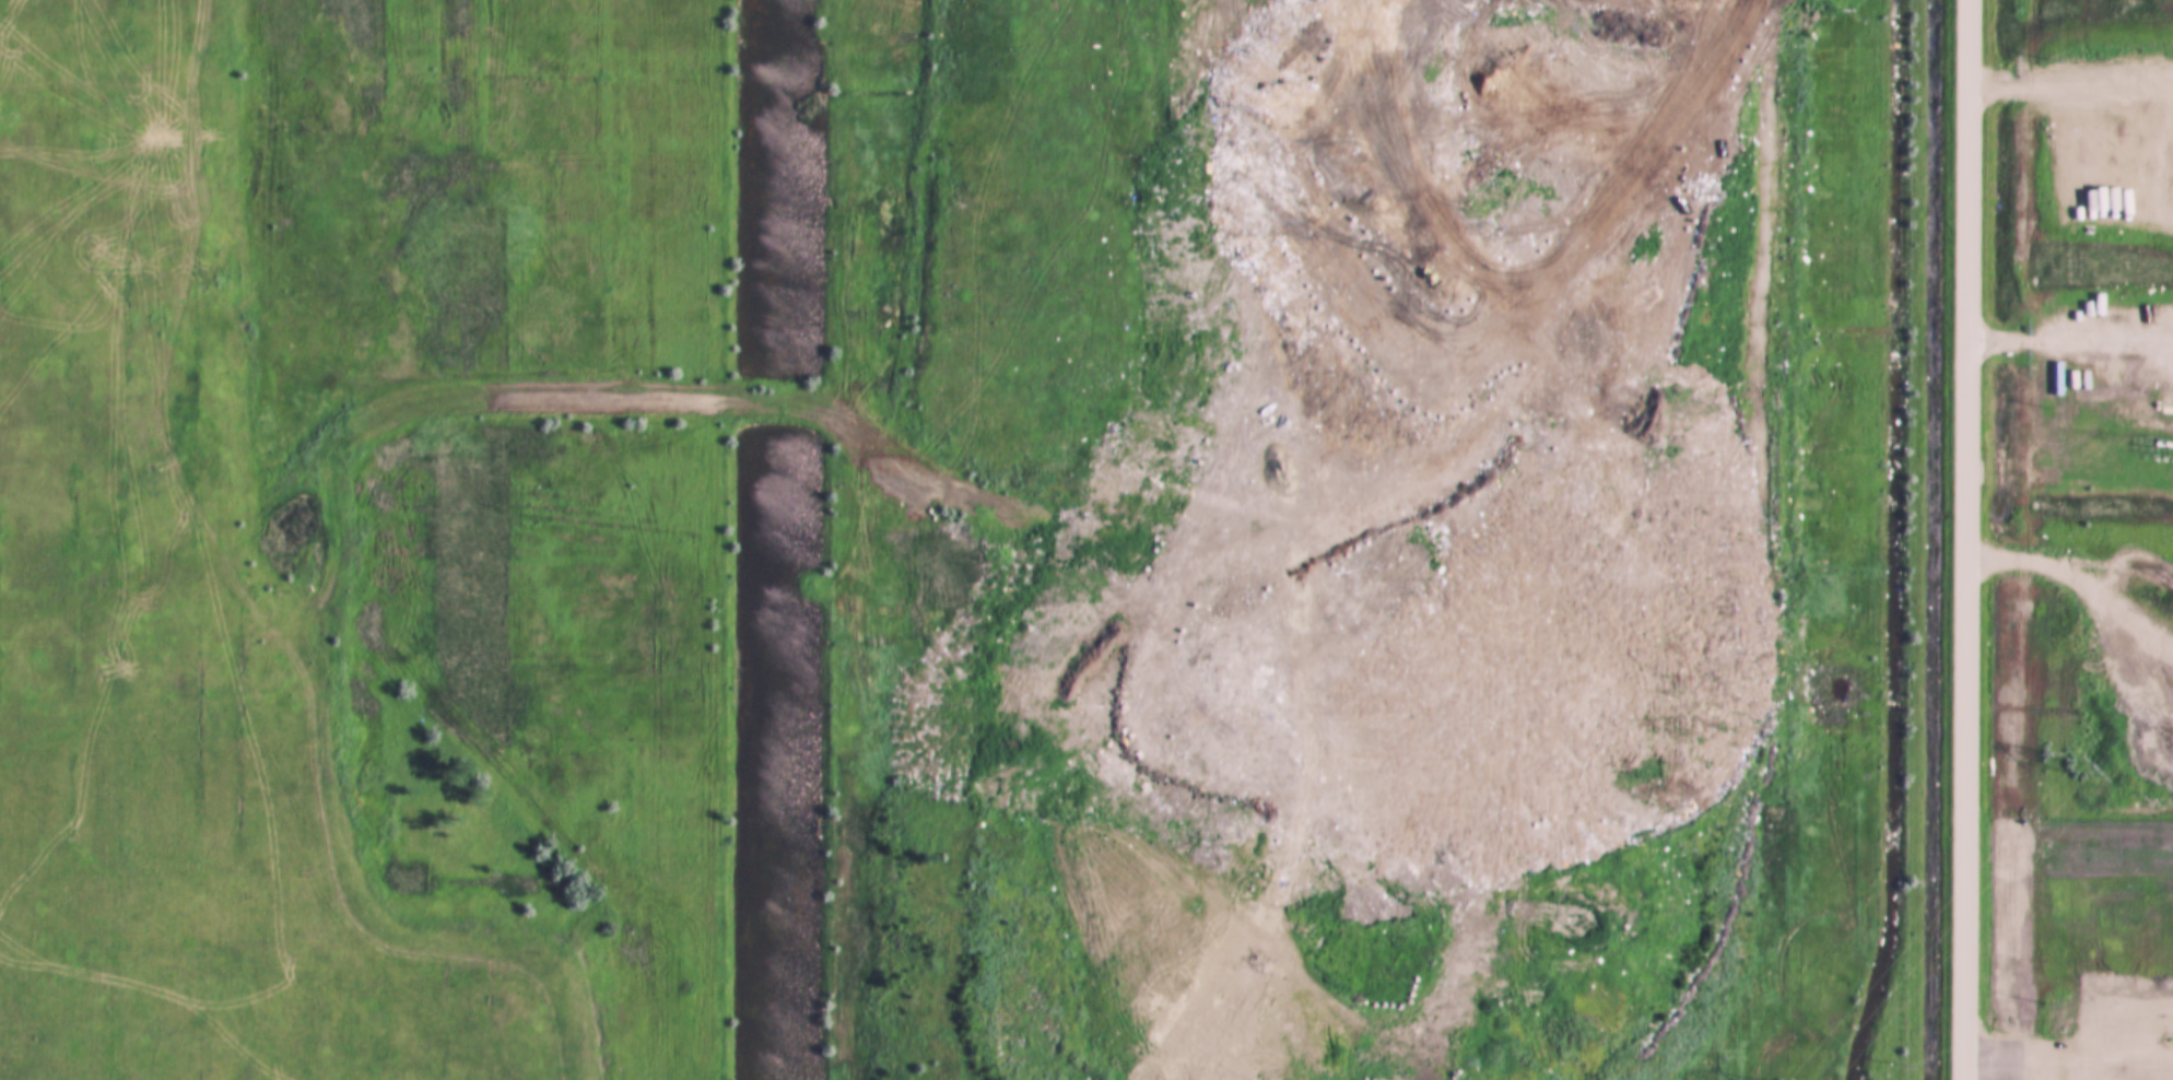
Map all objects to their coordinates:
building: (2146, 327)
building: (2168, 343)
road: (1966, 540)
power tower: (2072, 768)

